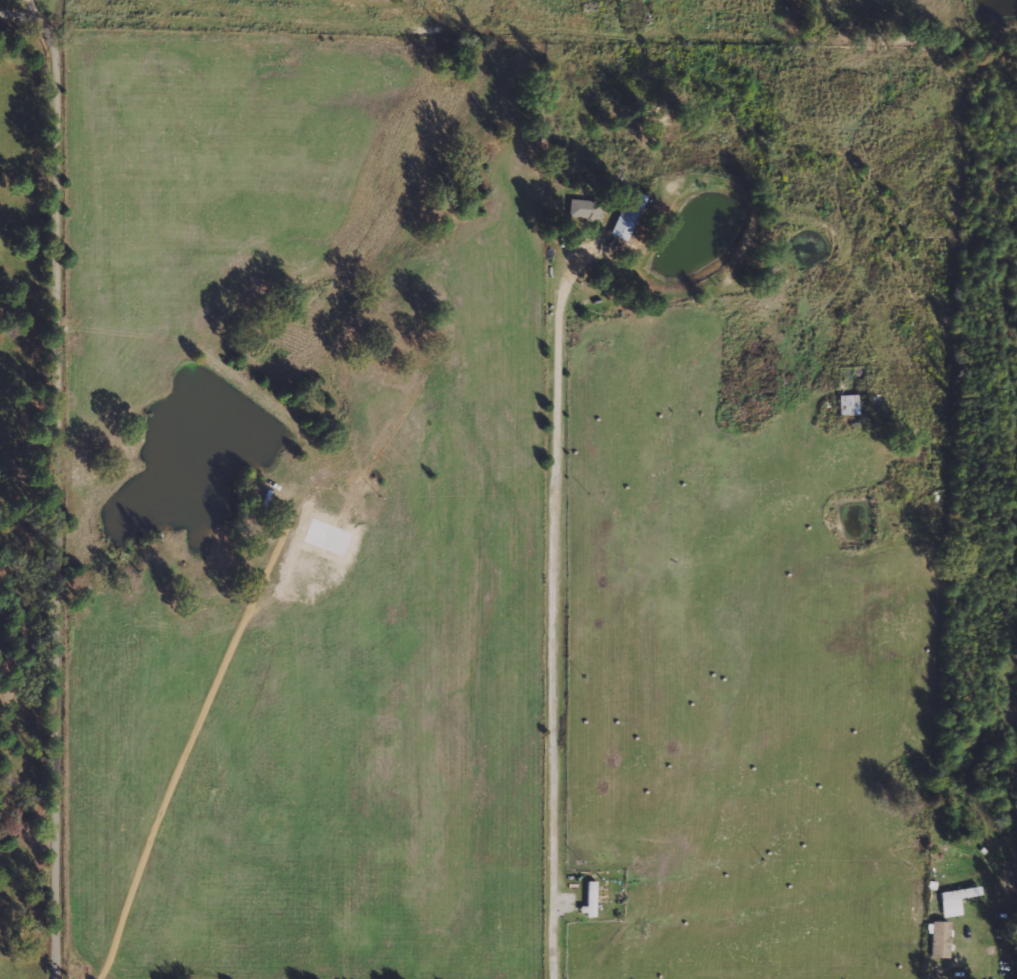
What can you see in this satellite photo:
building: (585, 208)
building: (630, 214)
building: (846, 404)
road: (63, 473)
road: (561, 635)
building: (954, 900)
building: (937, 939)

